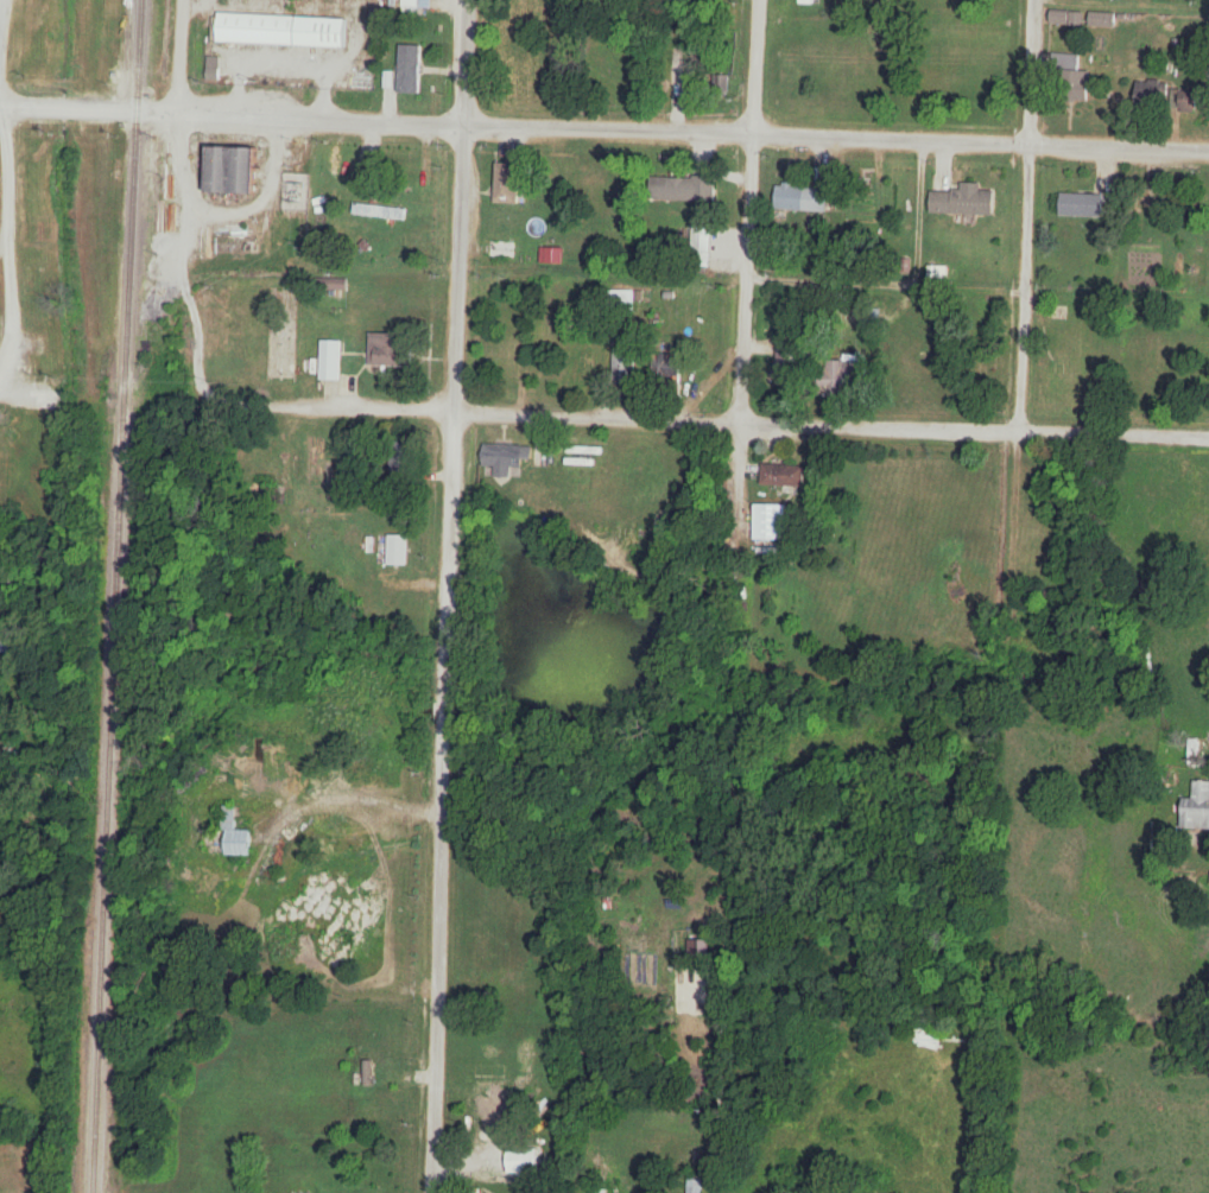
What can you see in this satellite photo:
building: (1102, 20)
building: (284, 31)
building: (410, 69)
building: (634, 72)
building: (1071, 77)
building: (1151, 93)
road: (603, 127)
building: (235, 169)
building: (508, 183)
building: (683, 189)
building: (802, 198)
building: (958, 202)
road: (186, 203)
building: (1082, 207)
road: (748, 211)
building: (381, 212)
building: (502, 249)
road: (1026, 299)
building: (392, 349)
building: (330, 360)
building: (787, 360)
building: (624, 362)
building: (666, 366)
building: (584, 367)
building: (846, 375)
road: (29, 395)
road: (683, 421)
building: (505, 457)
building: (401, 459)
building: (783, 476)
building: (770, 523)
building: (392, 550)
railway: (114, 596)
road: (448, 596)
building: (1196, 807)
building: (235, 836)
road: (727, 1087)
building: (494, 1113)
building: (524, 1159)
building: (690, 1186)
building: (376, 1187)
building: (604, 1191)

